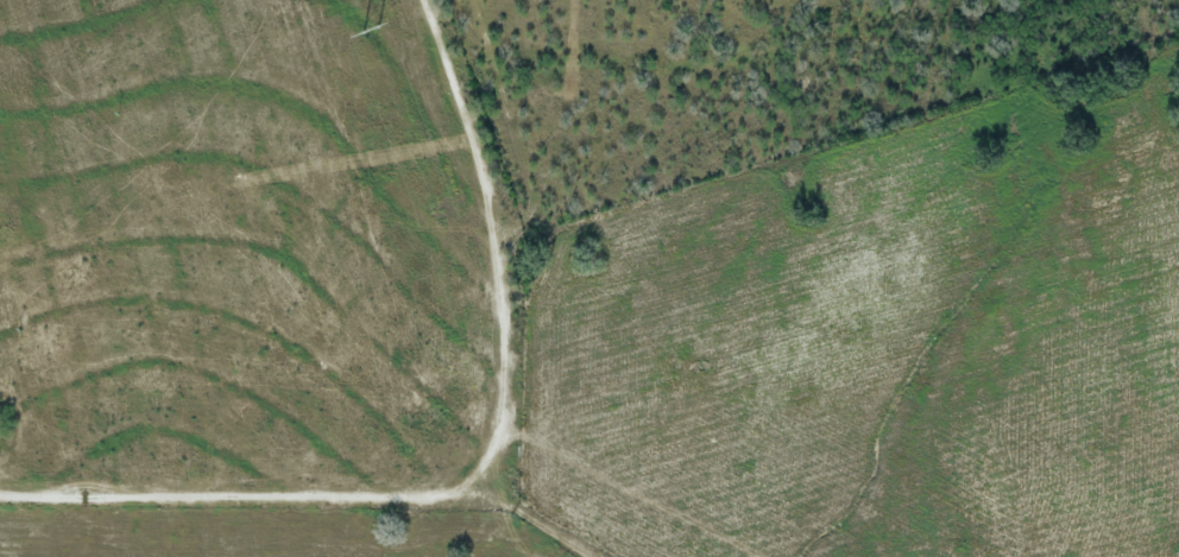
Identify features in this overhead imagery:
power tower: (368, 29)
road: (483, 473)

